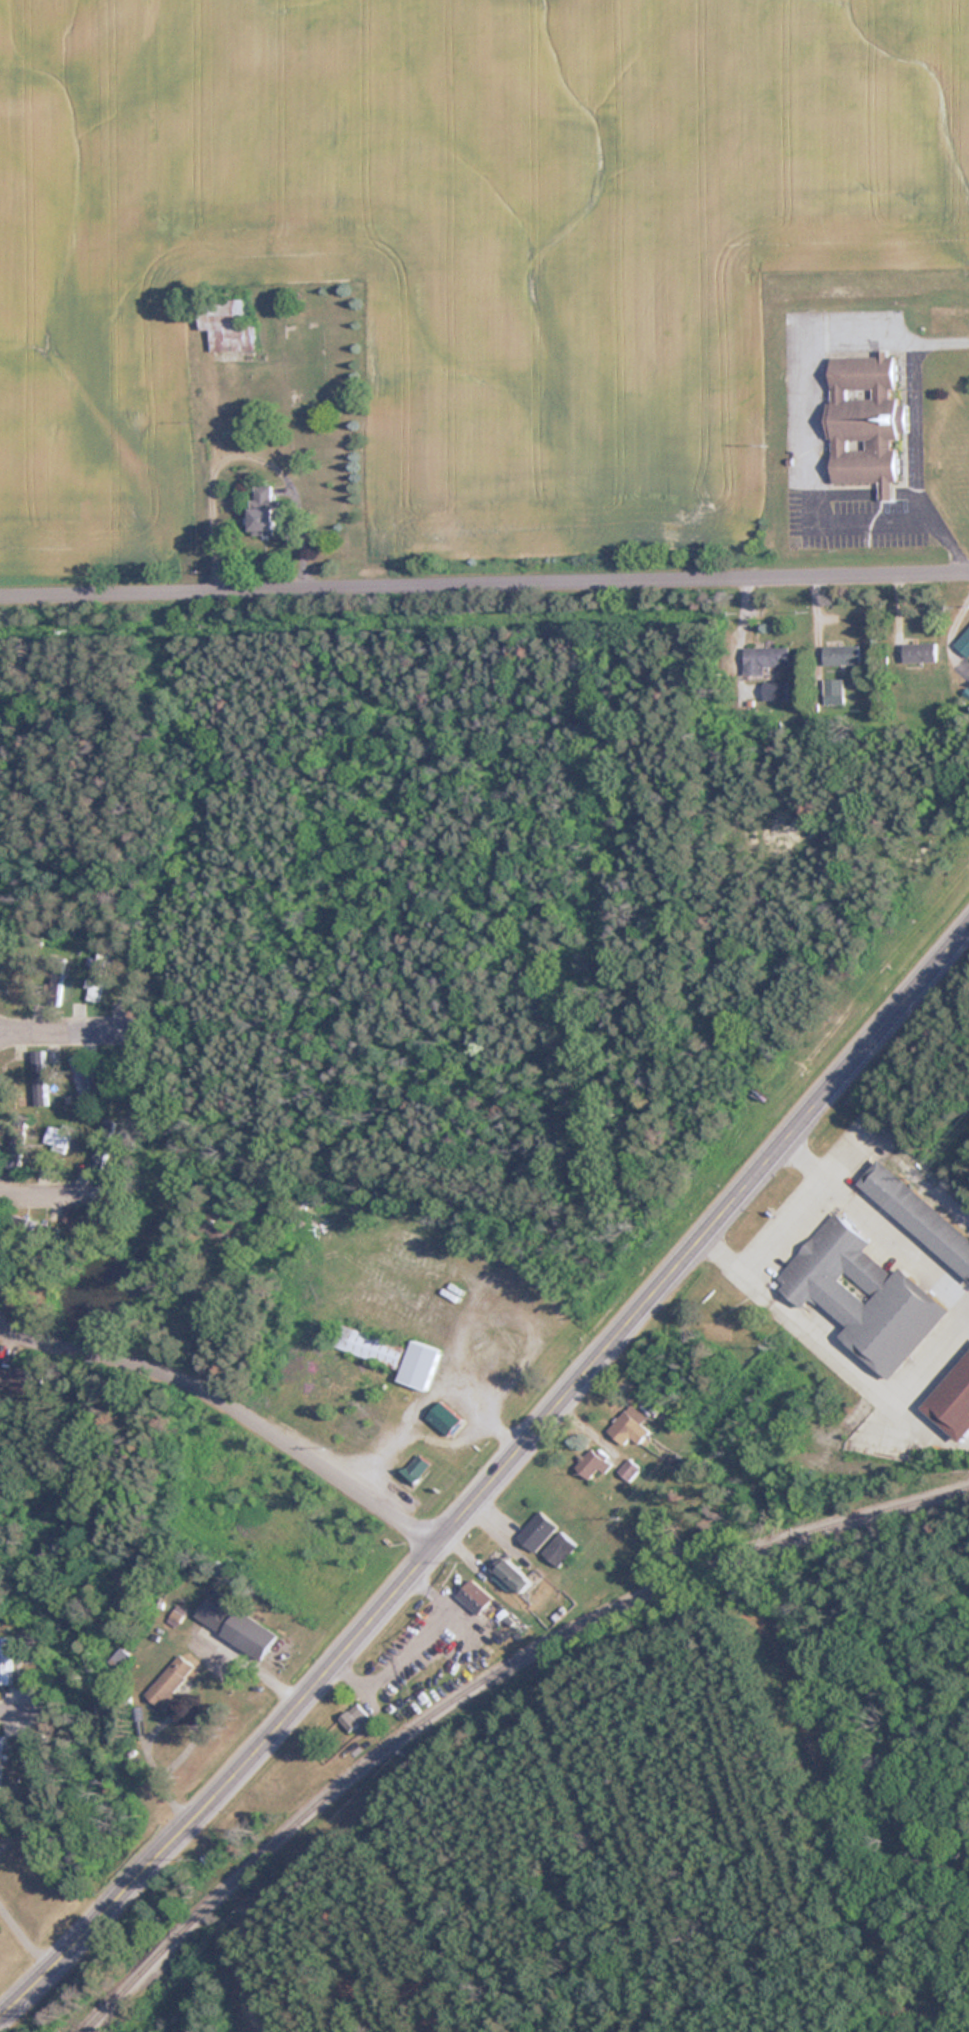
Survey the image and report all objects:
building: (224, 325)
building: (864, 419)
road: (246, 456)
building: (263, 511)
road: (484, 583)
building: (964, 635)
building: (918, 651)
building: (840, 654)
building: (764, 659)
building: (775, 690)
building: (98, 977)
building: (14, 981)
building: (56, 981)
building: (137, 981)
road: (68, 1027)
building: (40, 1078)
building: (58, 1137)
building: (17, 1146)
building: (103, 1146)
road: (43, 1191)
road: (786, 1214)
building: (917, 1214)
building: (30, 1226)
road: (512, 1293)
building: (862, 1295)
building: (367, 1346)
building: (418, 1364)
building: (5, 1378)
road: (429, 1390)
building: (952, 1400)
road: (233, 1405)
building: (443, 1418)
building: (629, 1426)
road: (451, 1430)
building: (593, 1463)
building: (414, 1469)
building: (629, 1469)
road: (495, 1478)
building: (536, 1531)
building: (558, 1547)
building: (510, 1576)
building: (475, 1596)
building: (236, 1623)
road: (616, 1630)
building: (6, 1660)
building: (172, 1681)
railway: (484, 1687)
road: (21, 1710)
building: (353, 1717)
road: (148, 1756)
building: (0, 1760)
park: (646, 1823)
road: (597, 1846)
road: (430, 1911)
road: (21, 1938)
building: (436, 1983)
road: (375, 2030)

